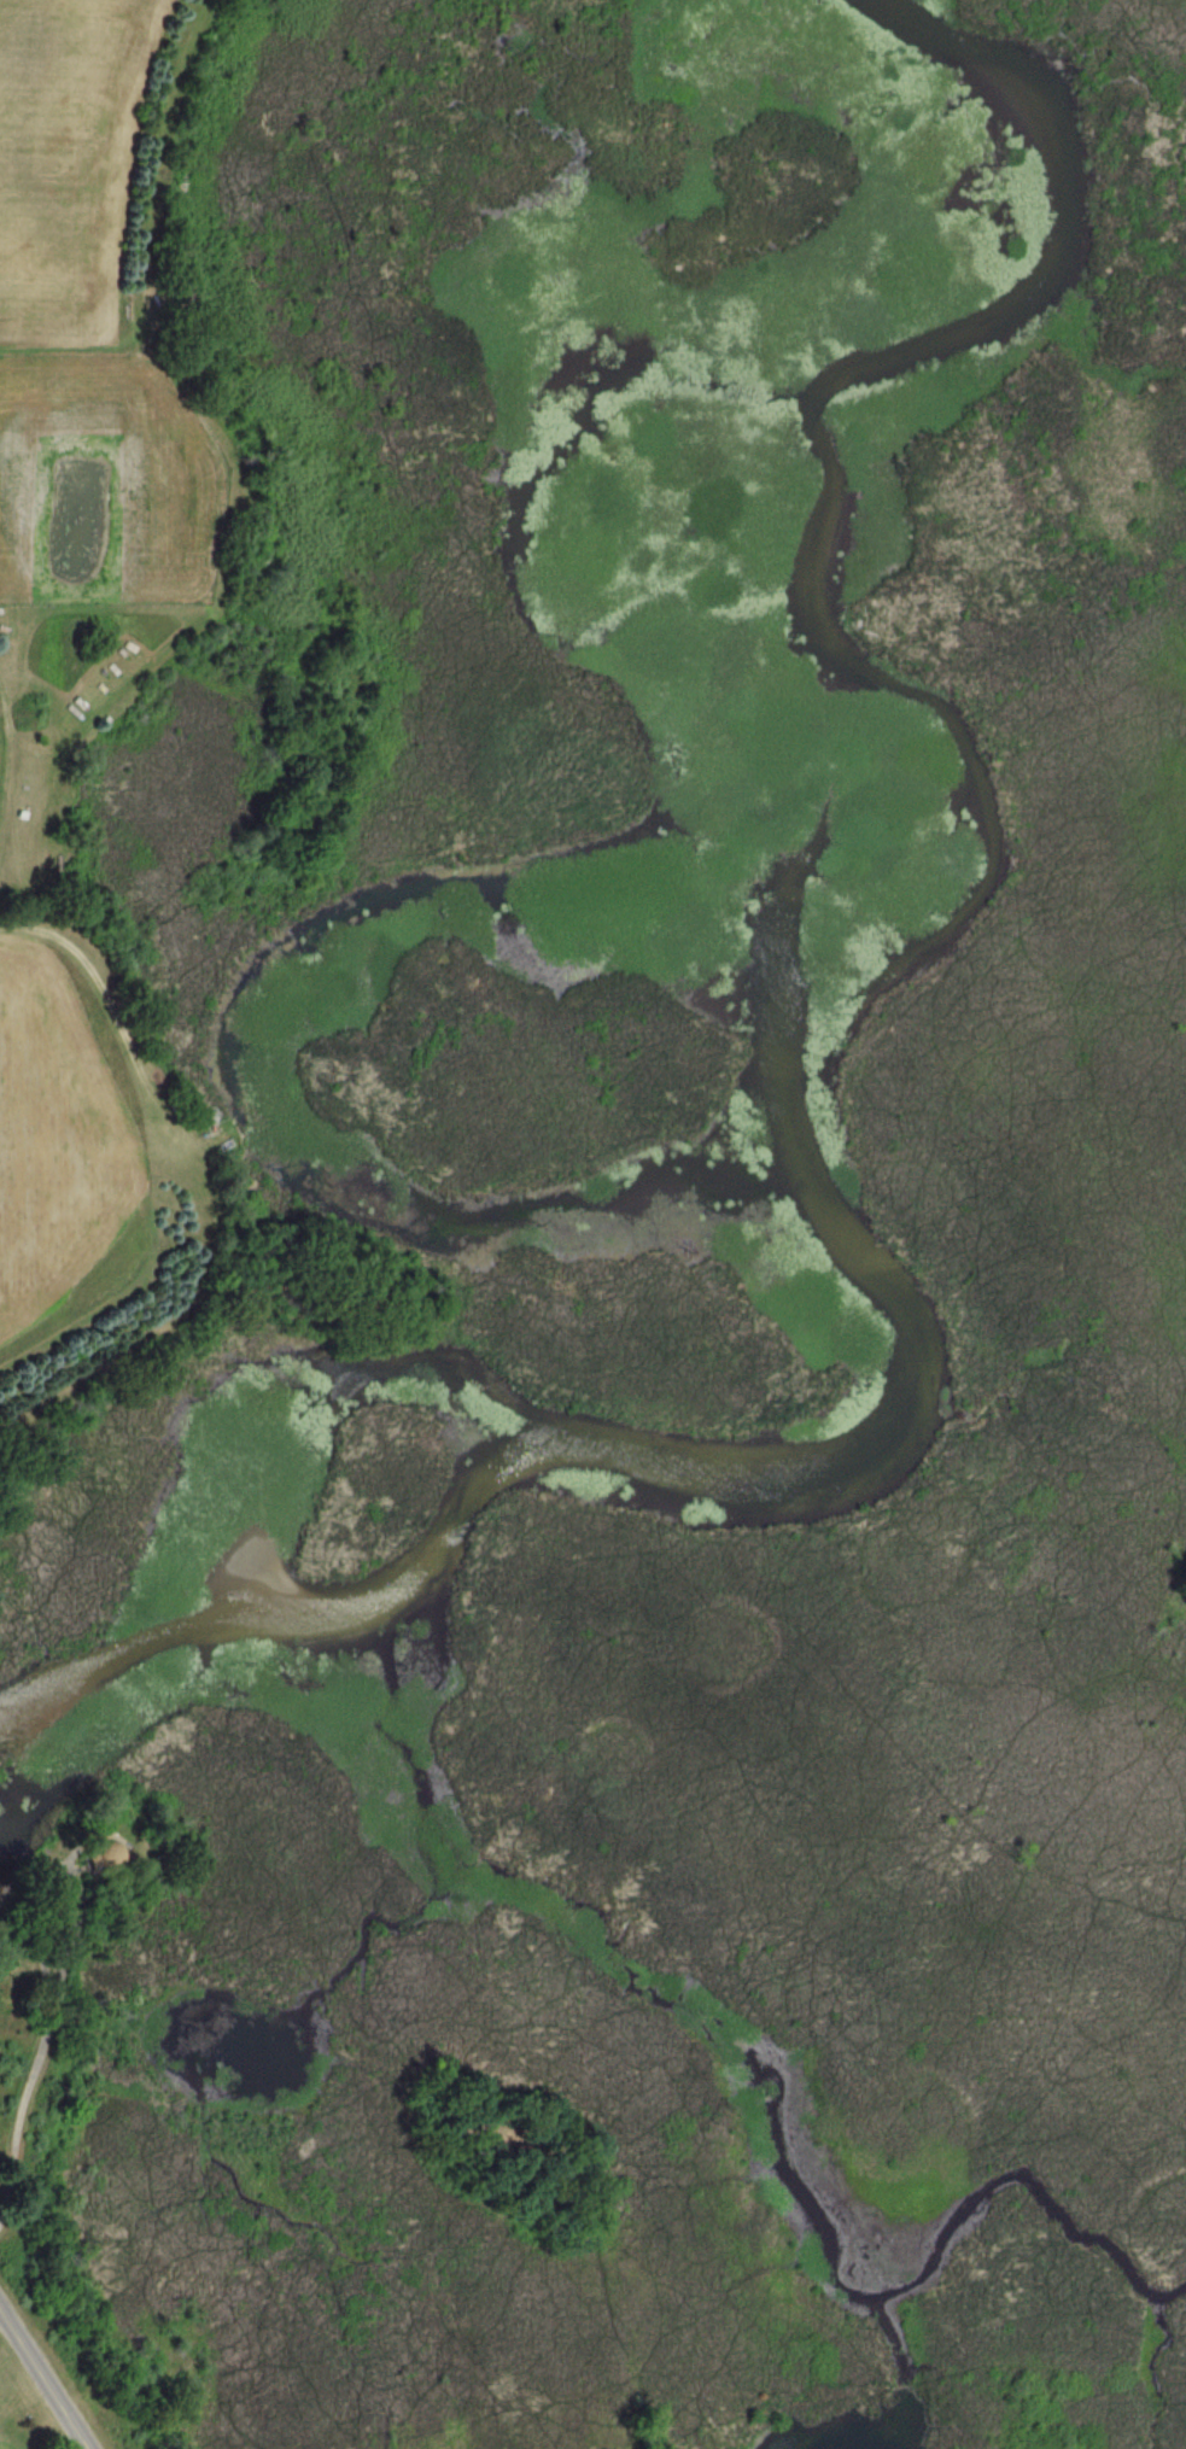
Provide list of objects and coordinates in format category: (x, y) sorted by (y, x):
river: (995, 857)
building: (1, 1896)
road: (41, 2029)
road: (43, 2379)

